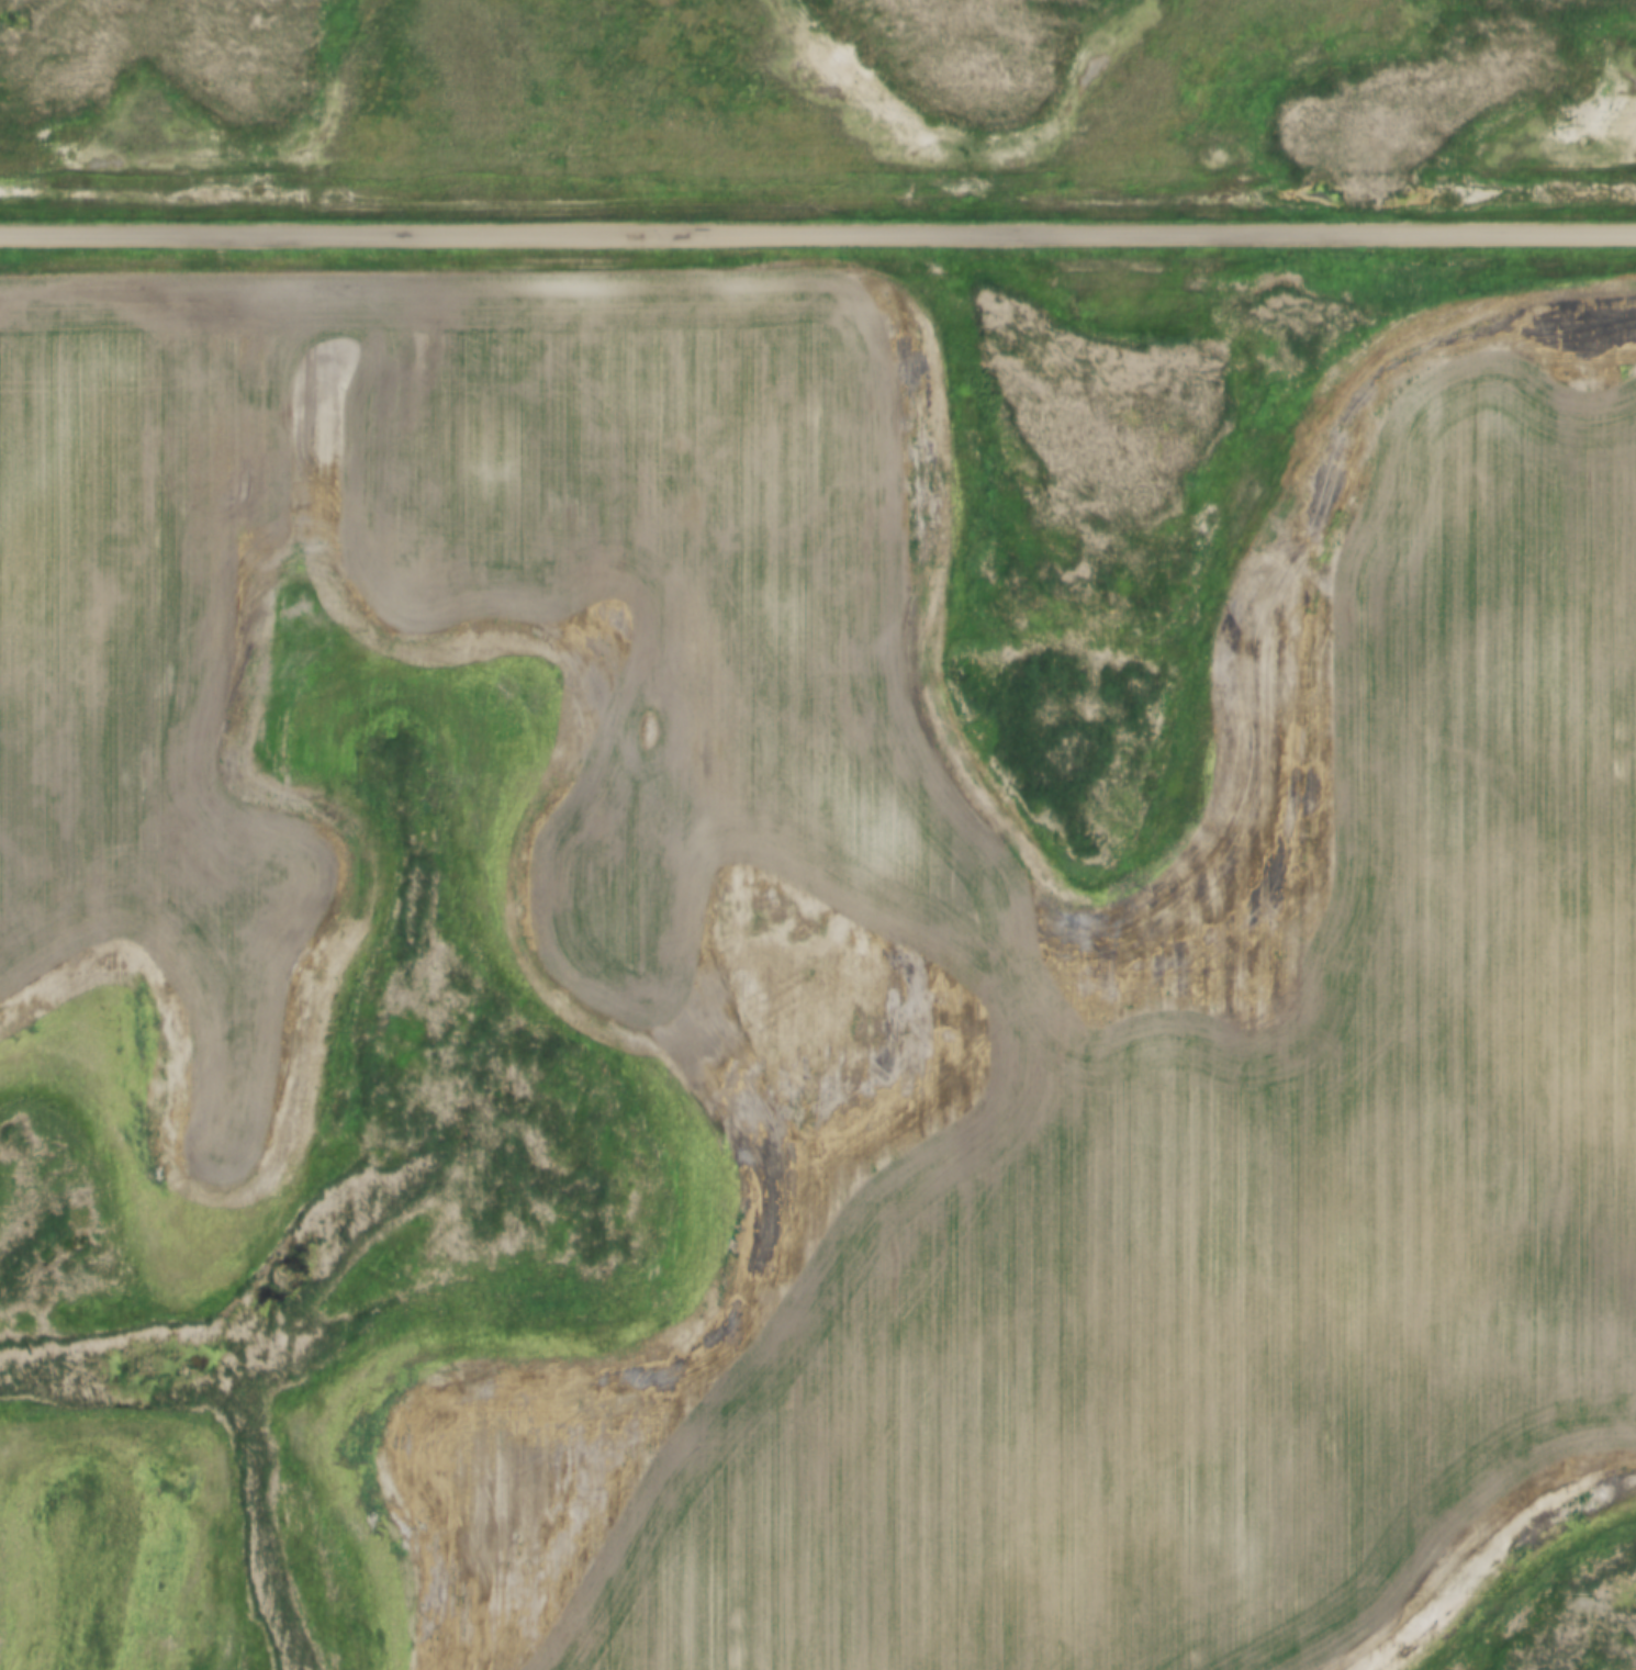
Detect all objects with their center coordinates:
road: (818, 236)

